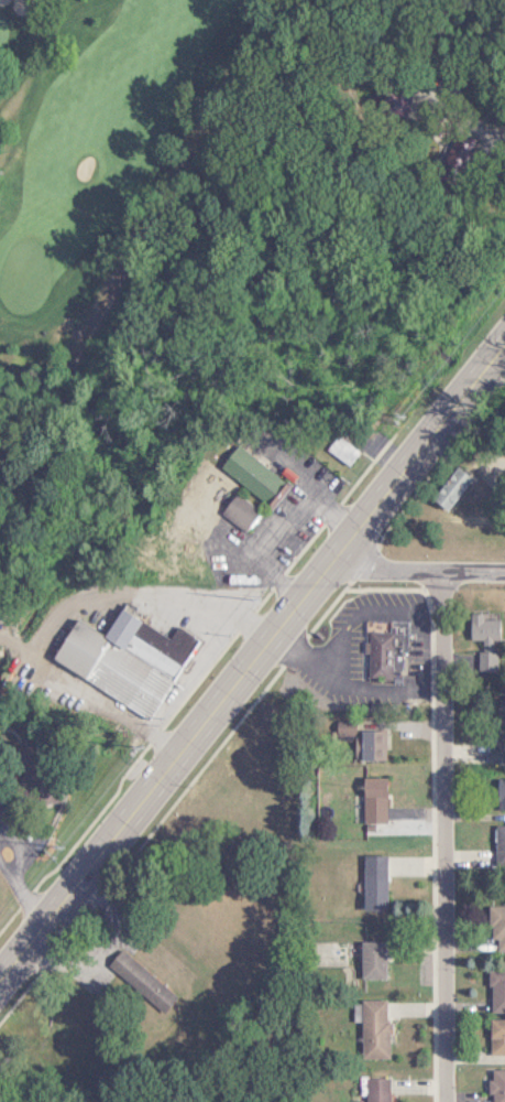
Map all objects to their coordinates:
road: (474, 118)
park: (113, 152)
road: (479, 173)
park: (22, 277)
building: (339, 450)
building: (250, 475)
building: (449, 487)
building: (235, 511)
road: (271, 519)
road: (416, 569)
road: (64, 611)
building: (482, 626)
road: (298, 648)
building: (382, 649)
road: (329, 652)
road: (252, 657)
building: (121, 658)
building: (343, 727)
building: (497, 742)
building: (369, 744)
building: (498, 792)
building: (371, 799)
road: (433, 835)
building: (498, 840)
road: (18, 860)
building: (371, 882)
building: (495, 927)
building: (370, 959)
building: (145, 986)
building: (495, 990)
building: (371, 1027)
building: (496, 1035)
building: (496, 1084)
building: (375, 1089)

